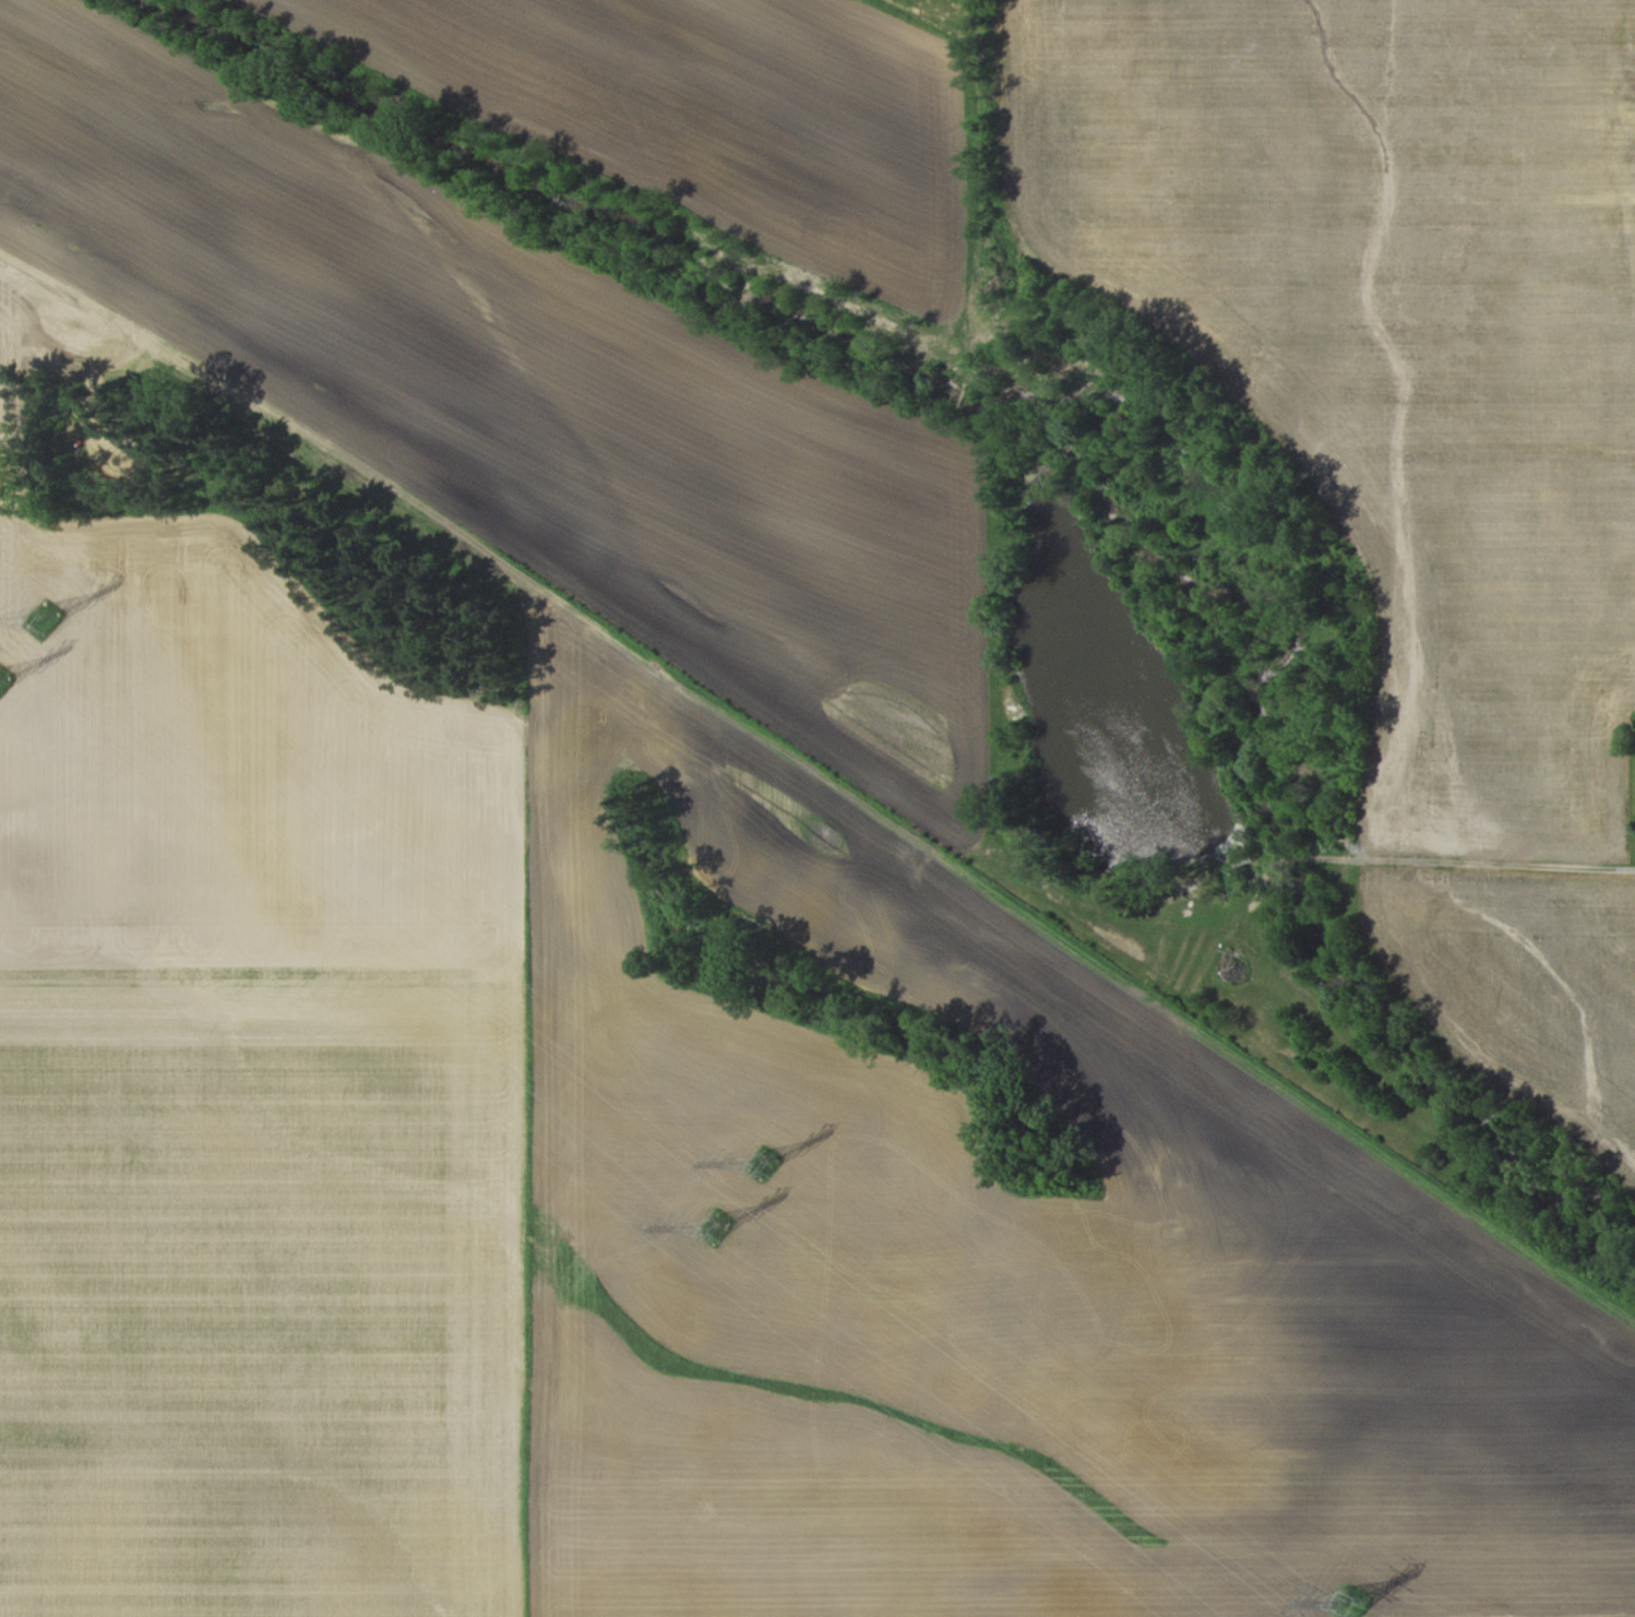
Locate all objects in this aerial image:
power tower: (50, 614)
road: (1453, 860)
power tower: (765, 1162)
power tower: (720, 1224)
power tower: (1356, 1600)

